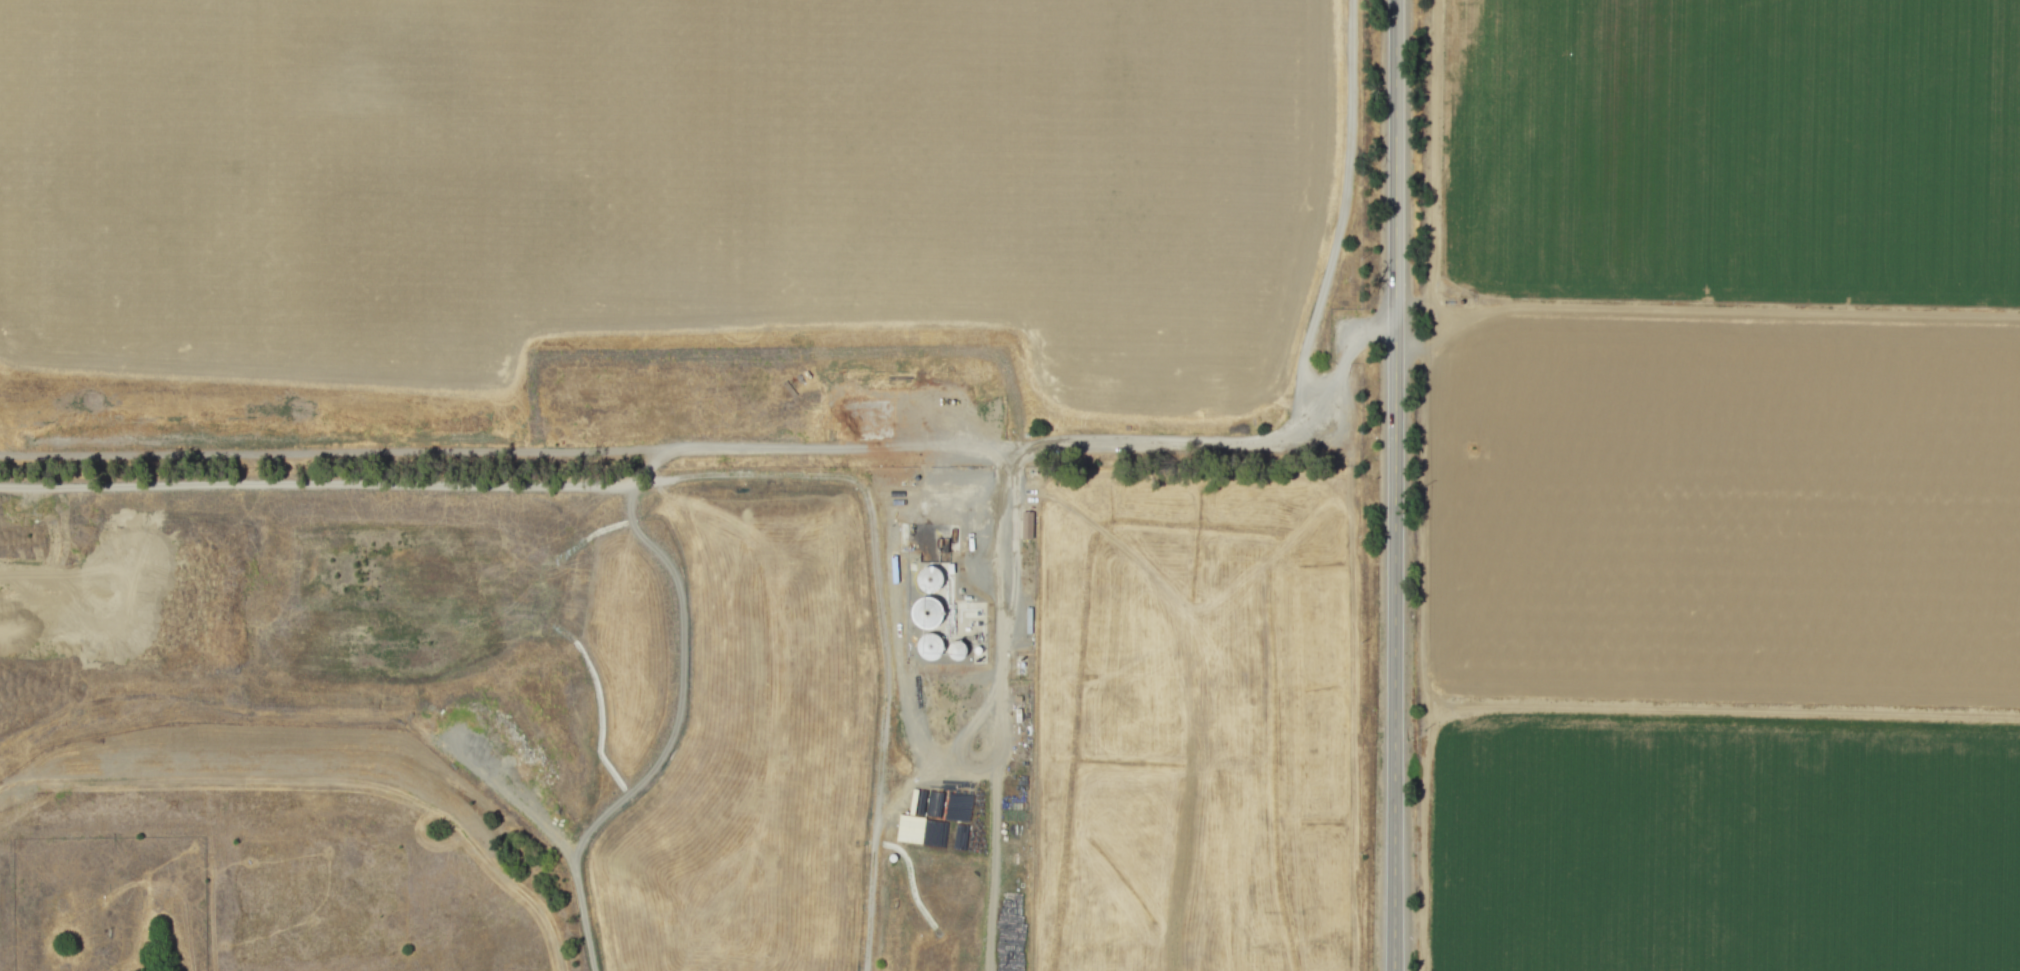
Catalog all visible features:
road: (1342, 207)
road: (1701, 311)
road: (1174, 443)
road: (1395, 485)
building: (1026, 524)
road: (1422, 524)
building: (930, 609)
road: (1729, 709)
road: (919, 775)
building: (909, 828)
road: (1421, 835)
road: (989, 840)
road: (584, 911)

